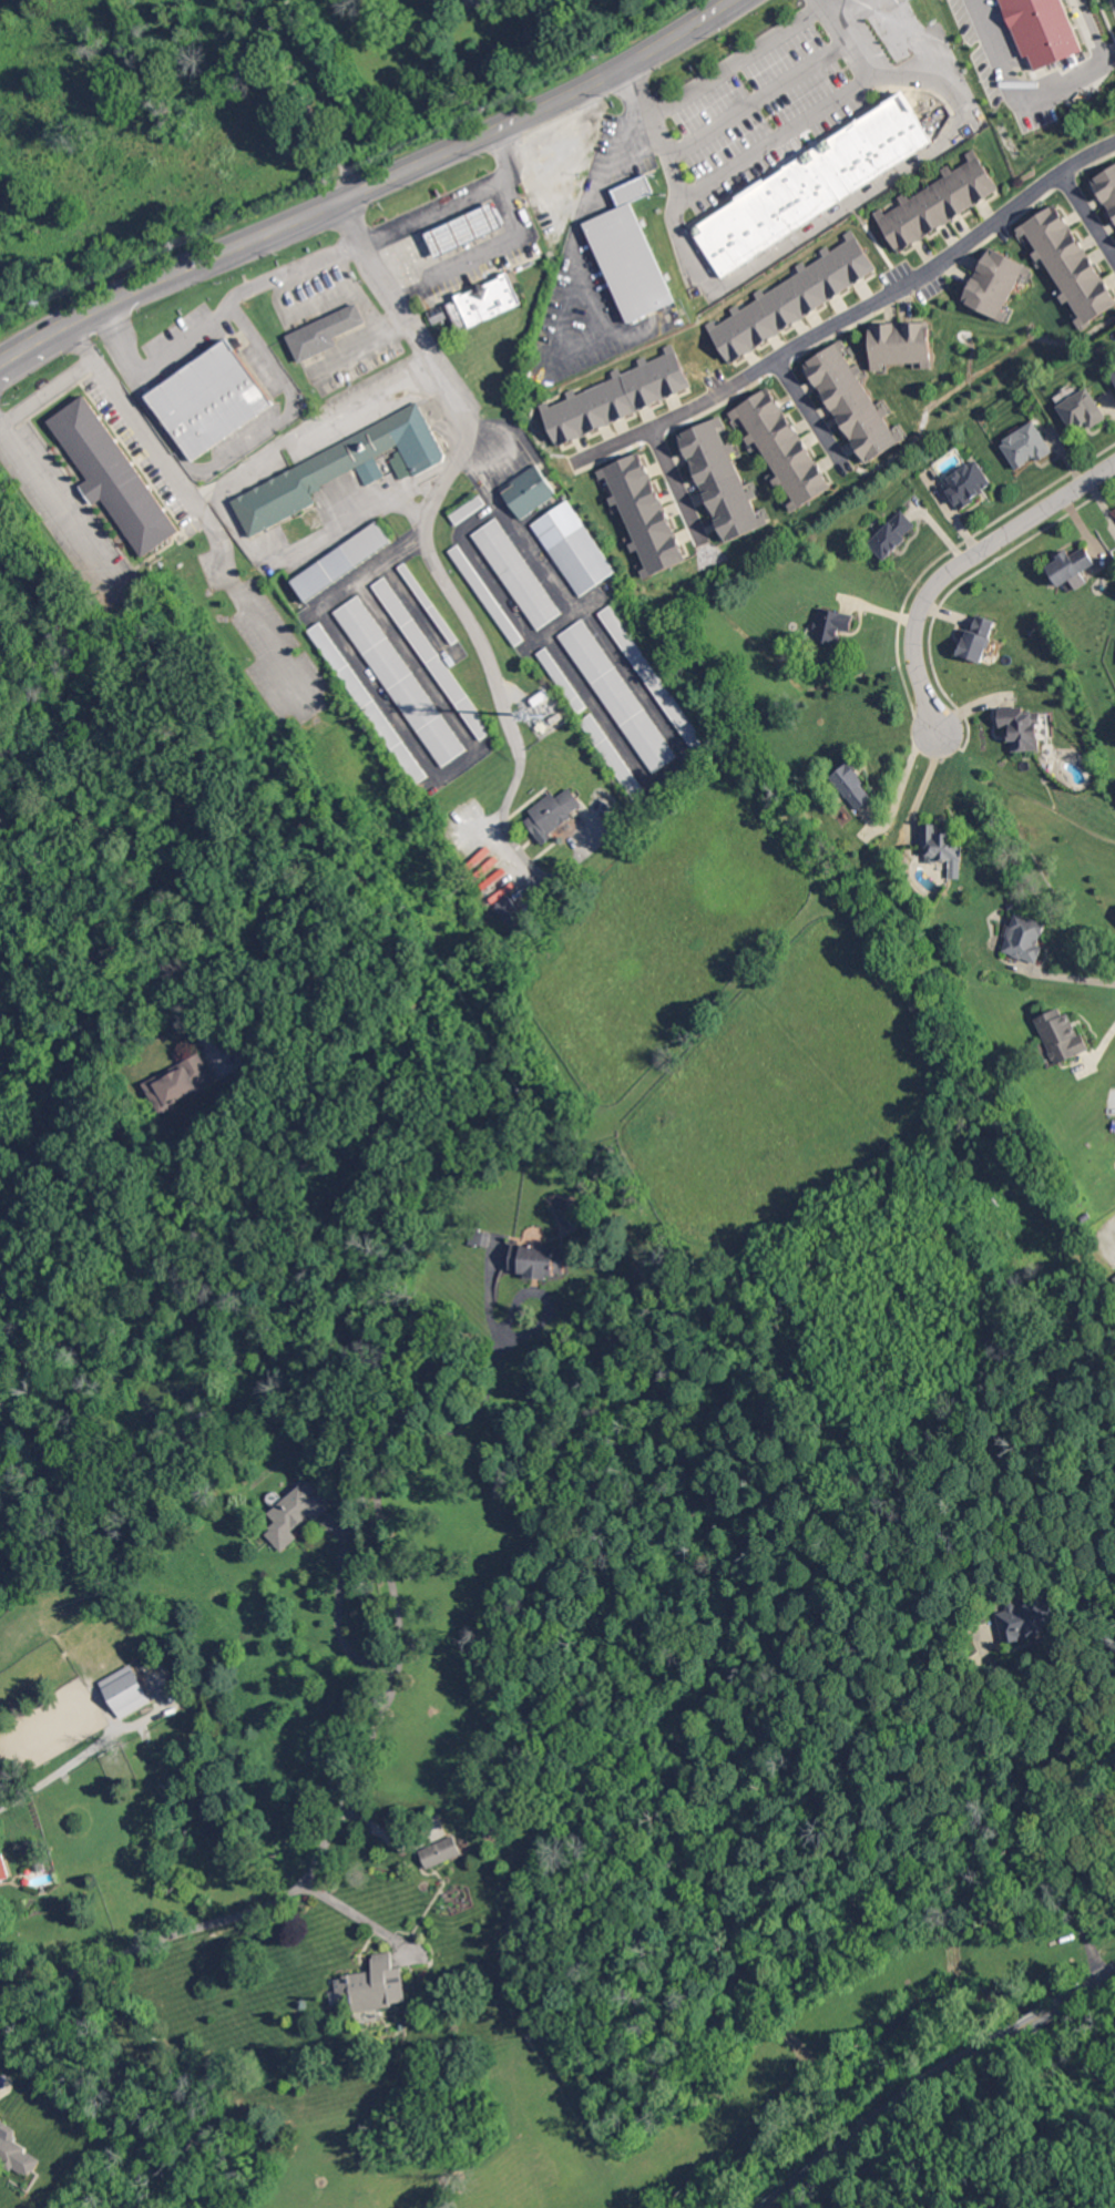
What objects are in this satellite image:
road: (837, 0)
building: (1051, 7)
road: (280, 16)
road: (718, 71)
road: (1022, 92)
road: (301, 93)
road: (777, 140)
road: (507, 151)
road: (415, 161)
building: (565, 162)
building: (810, 182)
building: (1104, 188)
building: (638, 191)
road: (515, 197)
building: (933, 203)
road: (1086, 218)
building: (464, 228)
building: (635, 262)
building: (1066, 267)
building: (989, 285)
road: (589, 289)
building: (795, 297)
building: (493, 301)
road: (84, 314)
road: (859, 314)
road: (216, 317)
building: (328, 331)
road: (79, 339)
road: (33, 341)
building: (897, 345)
building: (1113, 375)
road: (45, 387)
building: (208, 392)
building: (617, 396)
building: (849, 403)
road: (293, 409)
building: (1081, 409)
road: (807, 415)
road: (160, 418)
building: (1025, 444)
building: (778, 448)
building: (350, 467)
building: (117, 474)
road: (676, 480)
building: (722, 480)
building: (966, 483)
road: (420, 488)
building: (534, 491)
road: (53, 493)
road: (215, 493)
road: (203, 497)
road: (440, 499)
building: (470, 510)
road: (201, 512)
building: (644, 512)
building: (892, 534)
building: (579, 548)
road: (955, 561)
building: (346, 562)
building: (1071, 566)
building: (520, 574)
building: (490, 595)
building: (432, 605)
building: (830, 625)
building: (975, 640)
building: (434, 657)
building: (565, 679)
building: (401, 681)
building: (658, 681)
road: (513, 693)
building: (621, 695)
building: (541, 697)
building: (371, 702)
building: (555, 717)
building: (1020, 727)
building: (614, 755)
road: (899, 784)
road: (920, 784)
building: (853, 786)
building: (556, 814)
building: (942, 847)
building: (514, 912)
building: (1024, 938)
road: (1065, 975)
building: (1061, 1034)
building: (180, 1084)
building: (483, 1240)
building: (407, 1250)
building: (540, 1260)
road: (514, 1301)
building: (357, 1465)
building: (296, 1516)
road: (338, 1619)
building: (1029, 1619)
building: (127, 1693)
road: (59, 1771)
road: (351, 1783)
road: (1081, 1807)
building: (31, 1848)
building: (441, 1852)
building: (39, 1868)
building: (0, 1880)
building: (43, 1891)
road: (359, 1916)
building: (375, 1985)
road: (934, 2081)
building: (16, 2151)

